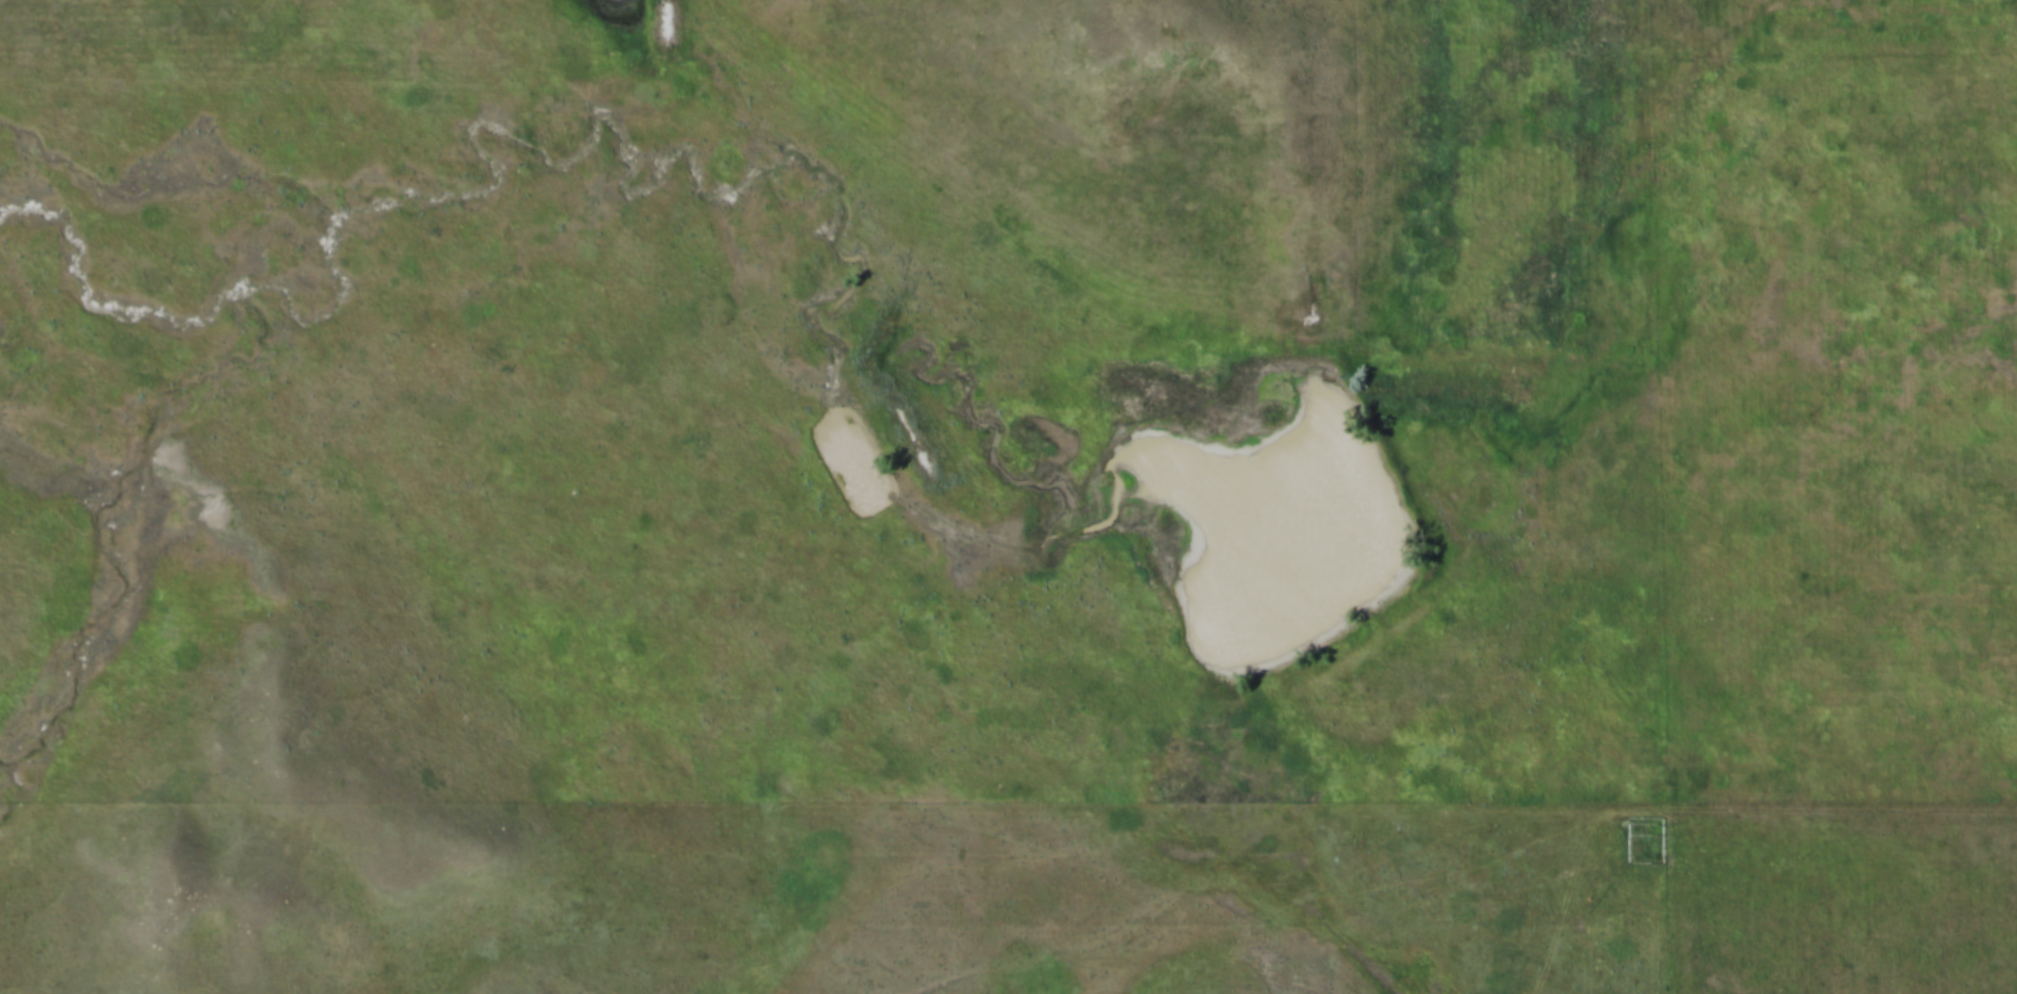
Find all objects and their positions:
road: (1856, 807)

